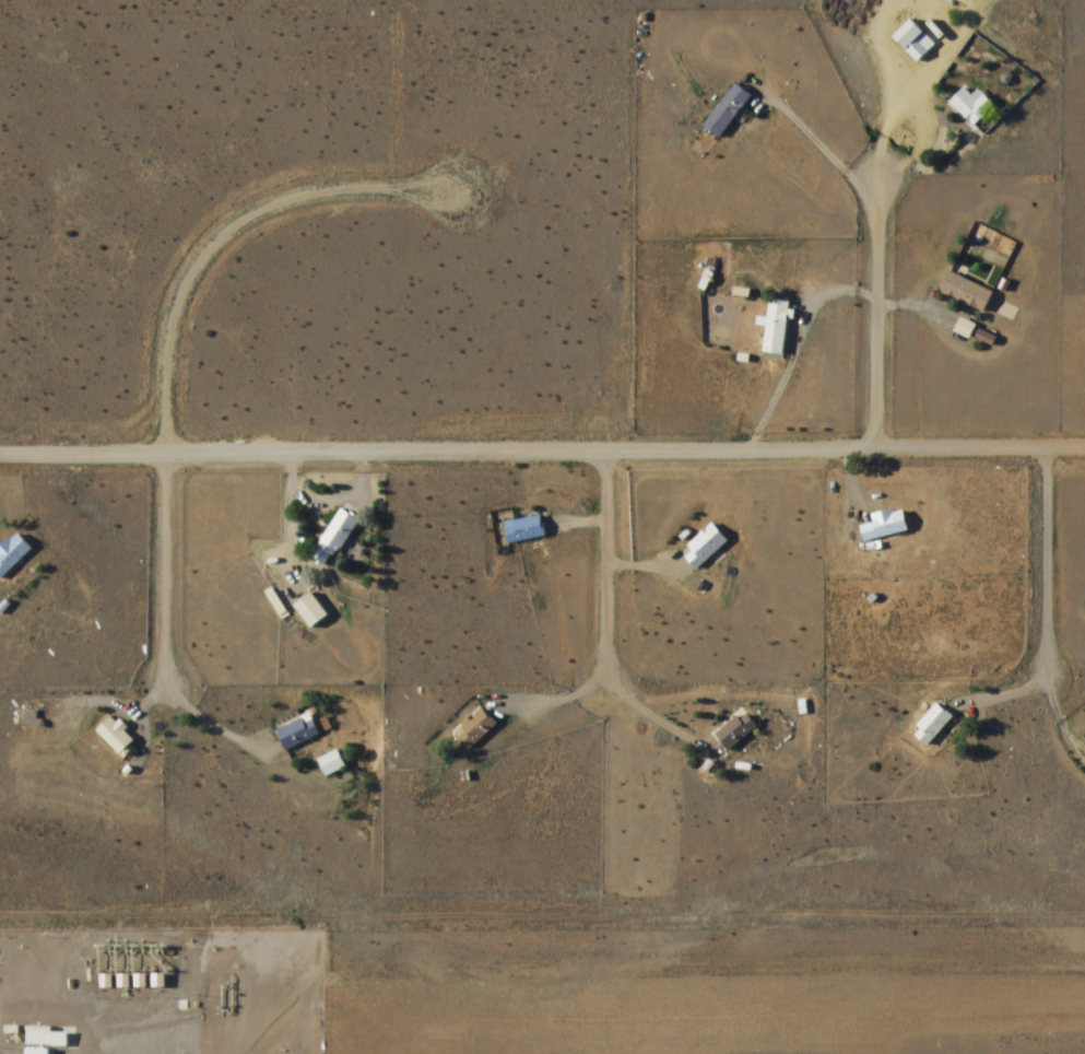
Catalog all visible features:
building: (916, 42)
building: (972, 107)
building: (729, 112)
road: (827, 153)
building: (968, 292)
road: (917, 309)
road: (876, 312)
building: (778, 329)
road: (170, 331)
road: (795, 349)
road: (542, 452)
road: (340, 499)
road: (288, 501)
road: (581, 524)
building: (887, 526)
building: (524, 529)
building: (334, 539)
building: (707, 547)
building: (13, 554)
road: (1045, 557)
road: (637, 563)
road: (605, 566)
building: (312, 612)
road: (614, 687)
building: (32, 718)
building: (933, 725)
building: (476, 730)
building: (738, 733)
building: (298, 734)
building: (117, 736)
building: (332, 764)
building: (46, 1039)

